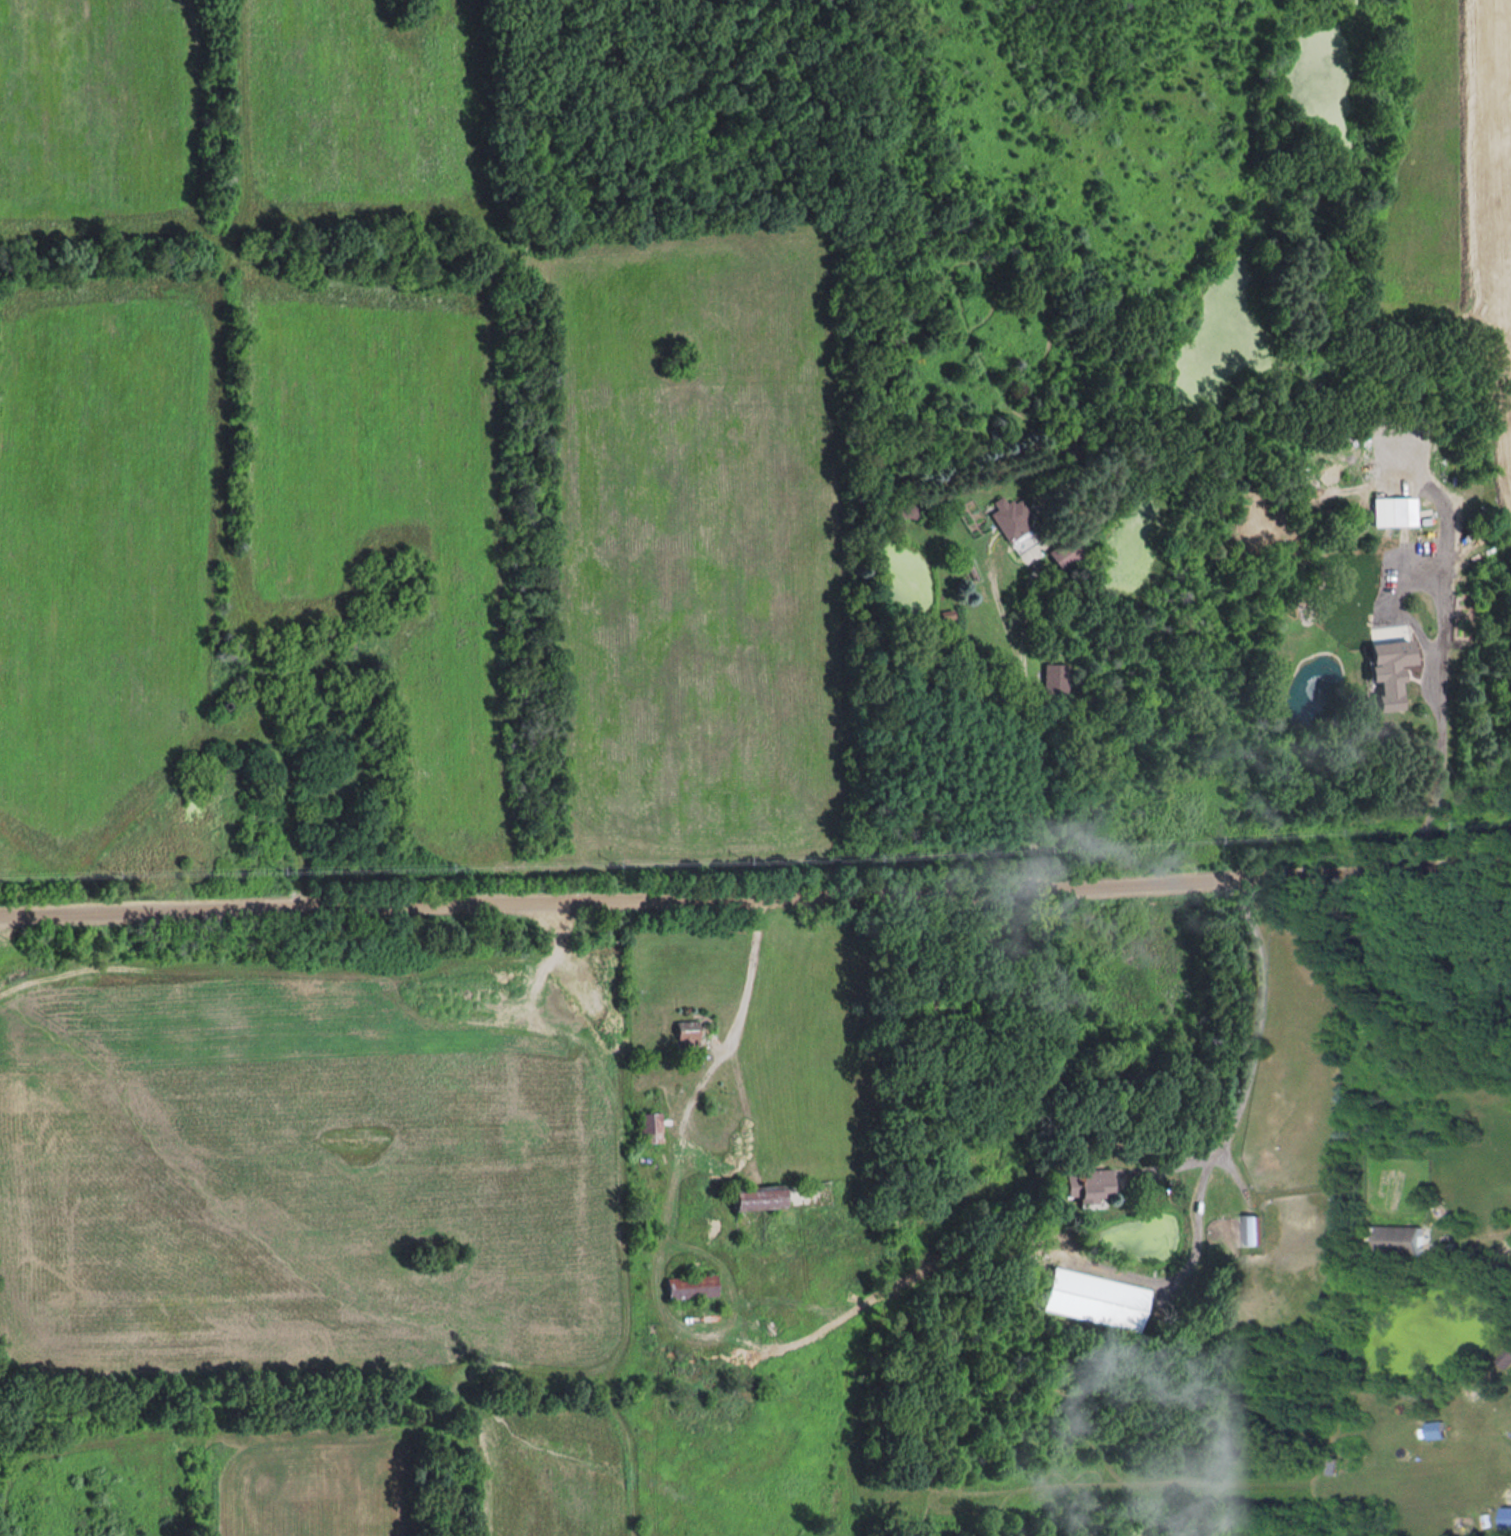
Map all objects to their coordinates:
building: (904, 509)
building: (1391, 511)
building: (972, 517)
building: (1008, 518)
road: (1439, 650)
building: (1384, 677)
building: (1053, 679)
road: (1026, 733)
road: (755, 898)
building: (684, 1034)
road: (1250, 1058)
road: (696, 1080)
building: (649, 1127)
road: (744, 1143)
building: (1088, 1183)
building: (752, 1198)
building: (1251, 1229)
building: (1402, 1239)
building: (688, 1286)
building: (1435, 1429)

